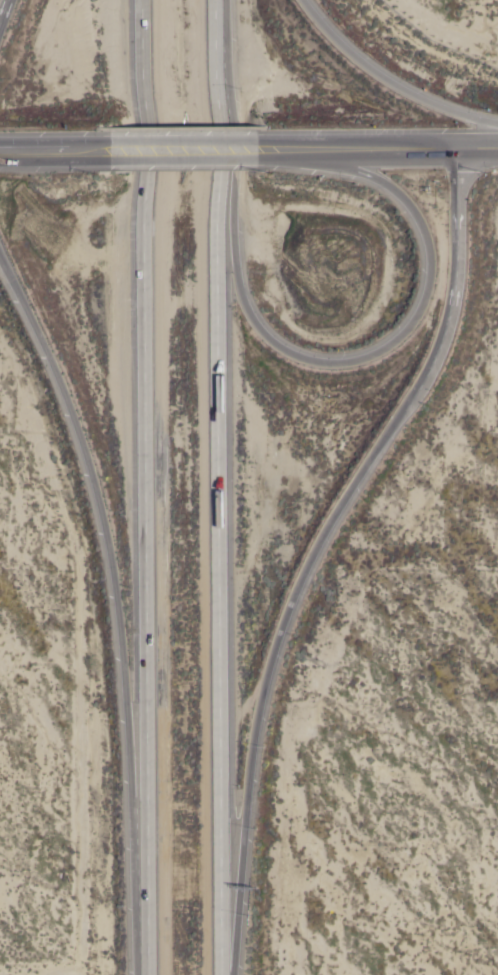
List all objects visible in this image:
road: (2, 7)
wastewater plant: (455, 24)
road: (386, 81)
road: (476, 146)
road: (363, 148)
road: (183, 149)
road: (47, 150)
road: (358, 359)
road: (144, 487)
road: (217, 487)
road: (314, 548)
road: (116, 609)

